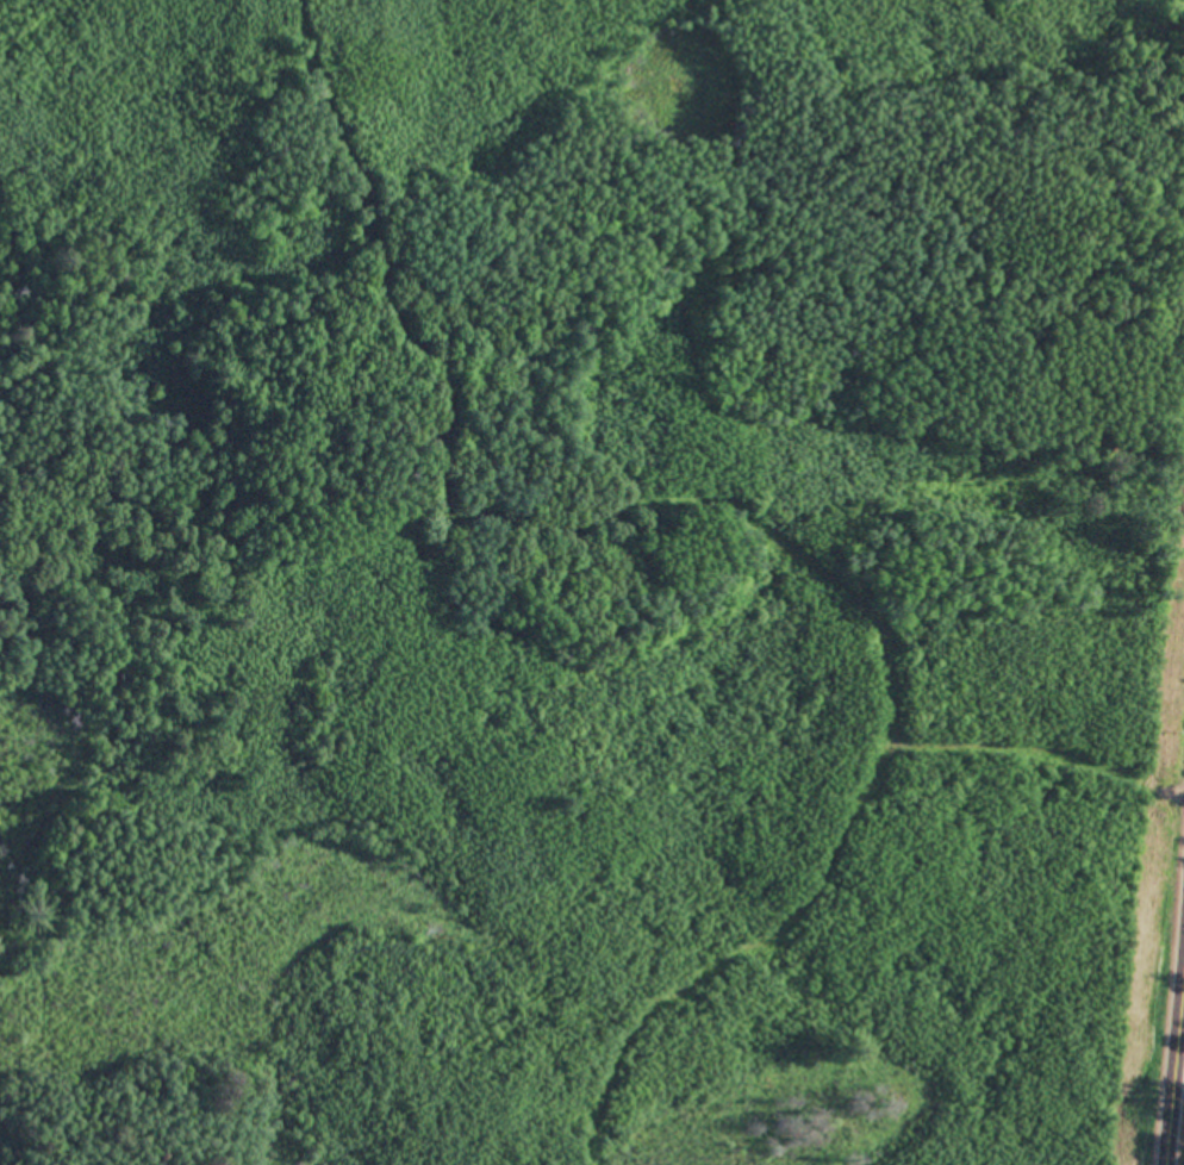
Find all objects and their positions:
road: (1174, 1070)

